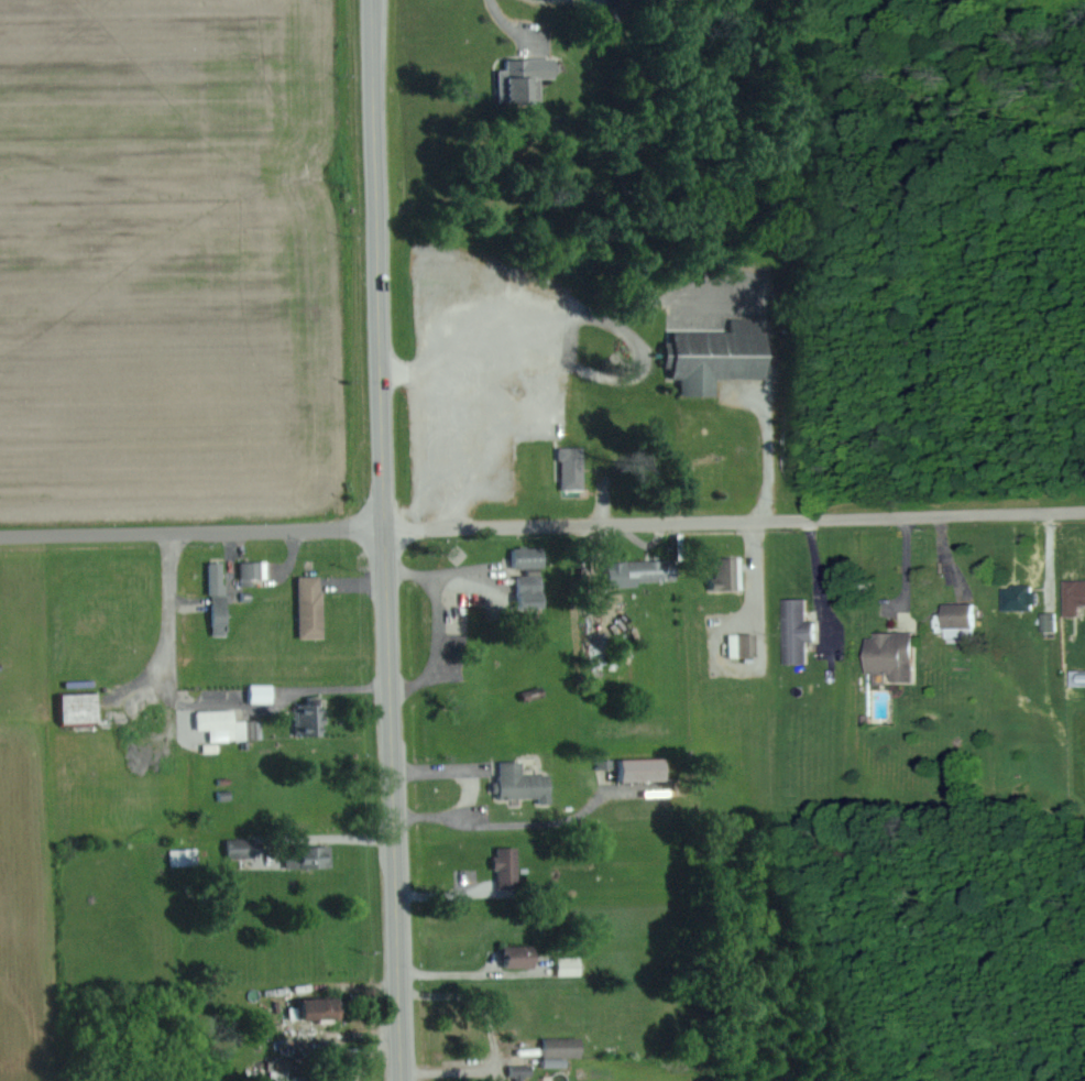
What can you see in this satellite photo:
building: (528, 78)
park: (911, 228)
building: (720, 356)
road: (766, 427)
building: (574, 467)
road: (541, 521)
road: (386, 540)
building: (530, 557)
building: (252, 571)
building: (646, 571)
building: (728, 574)
building: (534, 588)
building: (1027, 597)
building: (1076, 597)
building: (221, 598)
building: (314, 607)
building: (966, 614)
building: (1053, 621)
road: (171, 630)
building: (803, 631)
building: (746, 644)
building: (899, 655)
building: (265, 692)
building: (84, 708)
building: (311, 719)
building: (226, 724)
building: (645, 769)
building: (525, 782)
road: (468, 825)
building: (244, 848)
building: (187, 856)
building: (315, 858)
building: (511, 867)
park: (903, 949)
building: (523, 956)
building: (572, 965)
building: (325, 1008)
building: (563, 1050)
road: (471, 1070)
building: (283, 1071)
building: (524, 1071)
building: (317, 1079)

